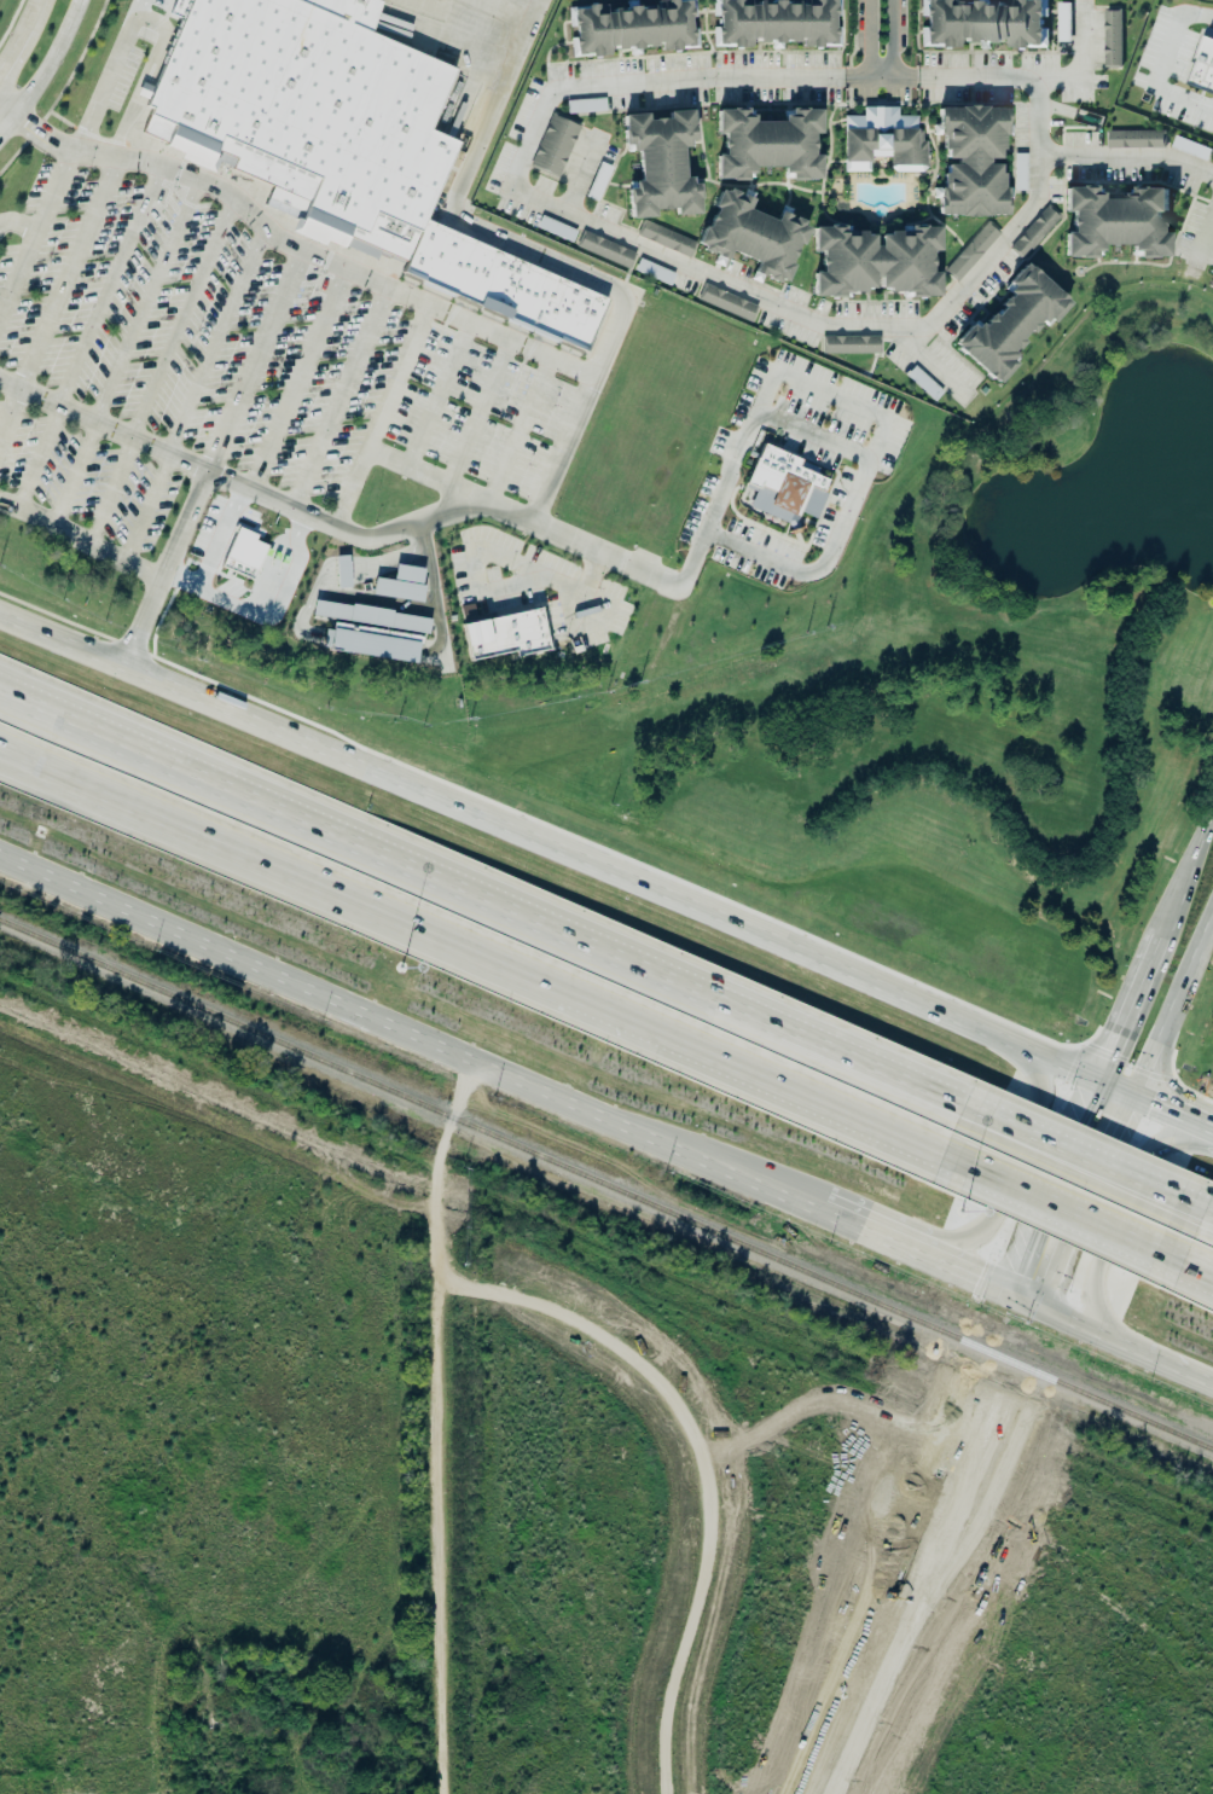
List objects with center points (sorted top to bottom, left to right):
road: (76, 2)
road: (470, 18)
building: (776, 23)
building: (985, 23)
building: (633, 27)
road: (22, 36)
building: (1112, 36)
road: (870, 40)
road: (894, 40)
road: (50, 60)
road: (1155, 64)
building: (1203, 66)
road: (110, 79)
road: (141, 95)
road: (495, 104)
road: (10, 106)
building: (588, 106)
building: (309, 114)
road: (10, 126)
building: (883, 139)
building: (1137, 139)
building: (768, 144)
building: (556, 145)
road: (1127, 156)
building: (973, 162)
building: (660, 164)
road: (167, 169)
road: (517, 195)
building: (1118, 222)
road: (19, 223)
building: (1037, 232)
road: (1205, 234)
building: (753, 236)
road: (36, 237)
building: (669, 239)
building: (608, 250)
building: (974, 251)
building: (876, 262)
building: (656, 272)
road: (364, 278)
building: (504, 286)
road: (59, 303)
building: (729, 303)
building: (1011, 324)
road: (89, 337)
road: (509, 339)
building: (853, 343)
road: (127, 353)
parking lot: (225, 362)
road: (163, 371)
road: (592, 378)
road: (301, 381)
road: (435, 394)
road: (834, 396)
road: (196, 397)
road: (342, 400)
road: (475, 412)
road: (515, 429)
road: (812, 435)
road: (0, 443)
road: (214, 460)
road: (417, 472)
building: (785, 490)
road: (277, 500)
road: (216, 536)
road: (81, 539)
road: (584, 546)
building: (244, 555)
building: (344, 571)
building: (402, 584)
road: (498, 586)
road: (273, 596)
building: (469, 612)
road: (306, 614)
building: (373, 631)
building: (507, 634)
road: (25, 693)
road: (25, 699)
road: (550, 848)
road: (1188, 878)
road: (513, 907)
road: (477, 948)
road: (1172, 1008)
road: (1130, 1012)
road: (387, 1020)
road: (1166, 1088)
road: (1145, 1108)
road: (1202, 1136)
road: (1081, 1156)
railway: (606, 1185)
road: (1055, 1188)
road: (1009, 1194)
road: (1061, 1202)
road: (1087, 1202)
road: (832, 1207)
road: (1201, 1207)
road: (1126, 1208)
road: (950, 1259)
road: (1190, 1259)
traffic signals: (1021, 1268)
traffic signals: (981, 1273)
road: (1028, 1295)
road: (1073, 1314)
traffic signals: (1033, 1328)
road: (1157, 1351)
road: (643, 1371)
road: (442, 1540)
road: (905, 1540)
road: (940, 1548)

